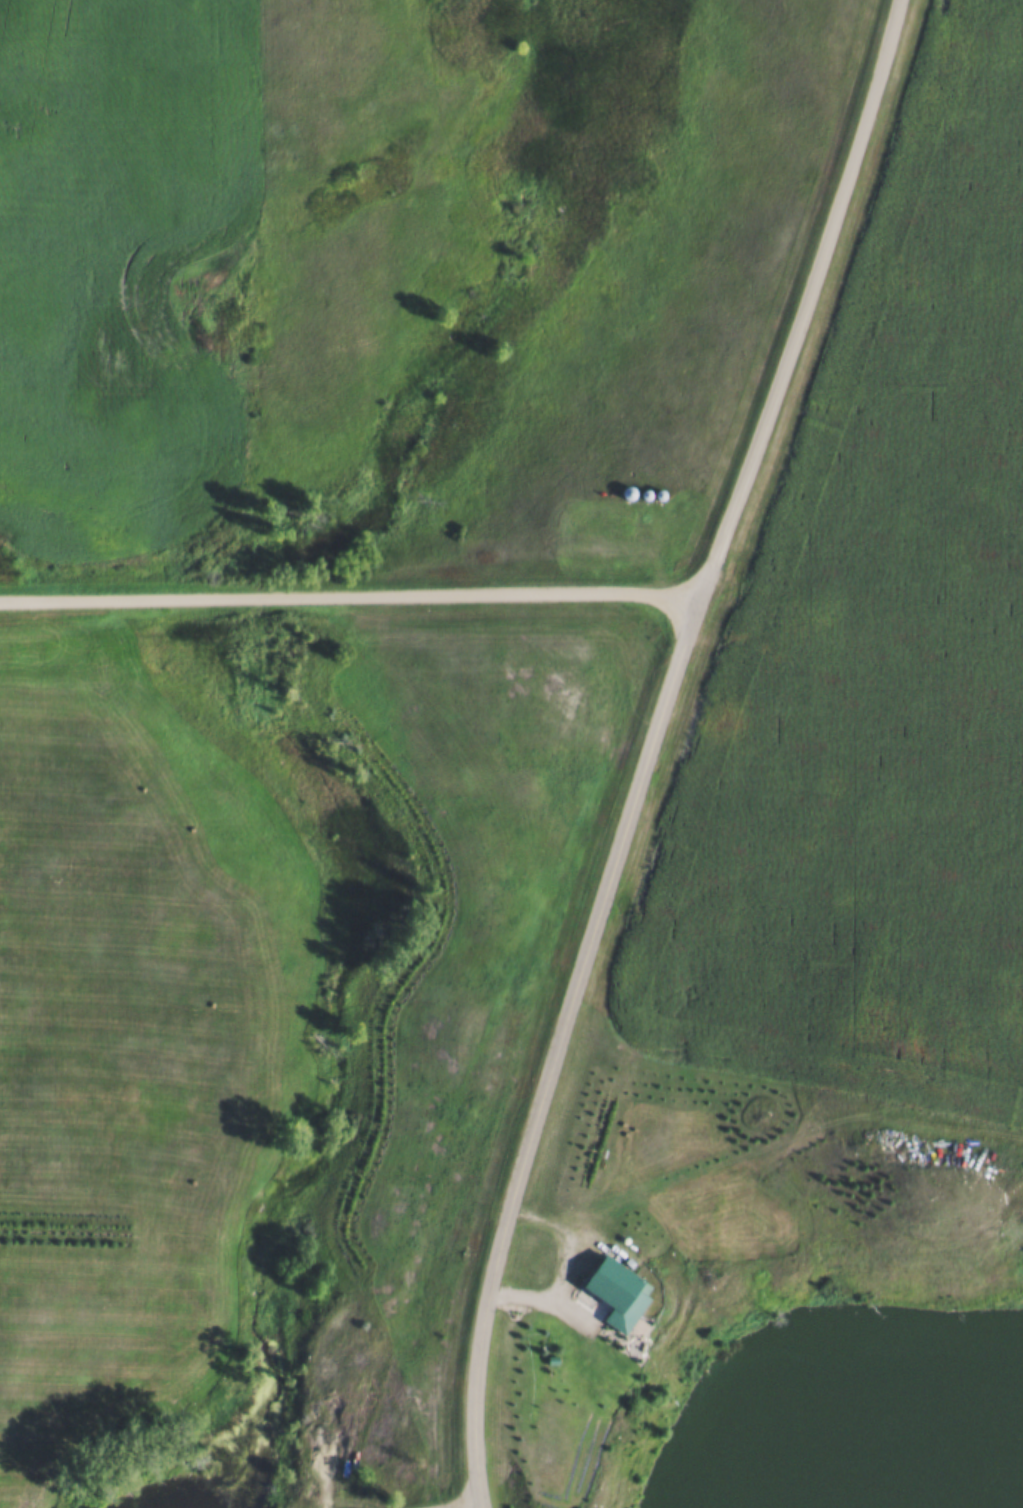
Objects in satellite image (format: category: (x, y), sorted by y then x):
road: (807, 307)
building: (627, 489)
silo: (627, 489)
building: (646, 492)
silo: (646, 492)
building: (660, 492)
silo: (660, 492)
road: (350, 601)
road: (558, 1053)
building: (603, 1290)
building: (336, 1460)

